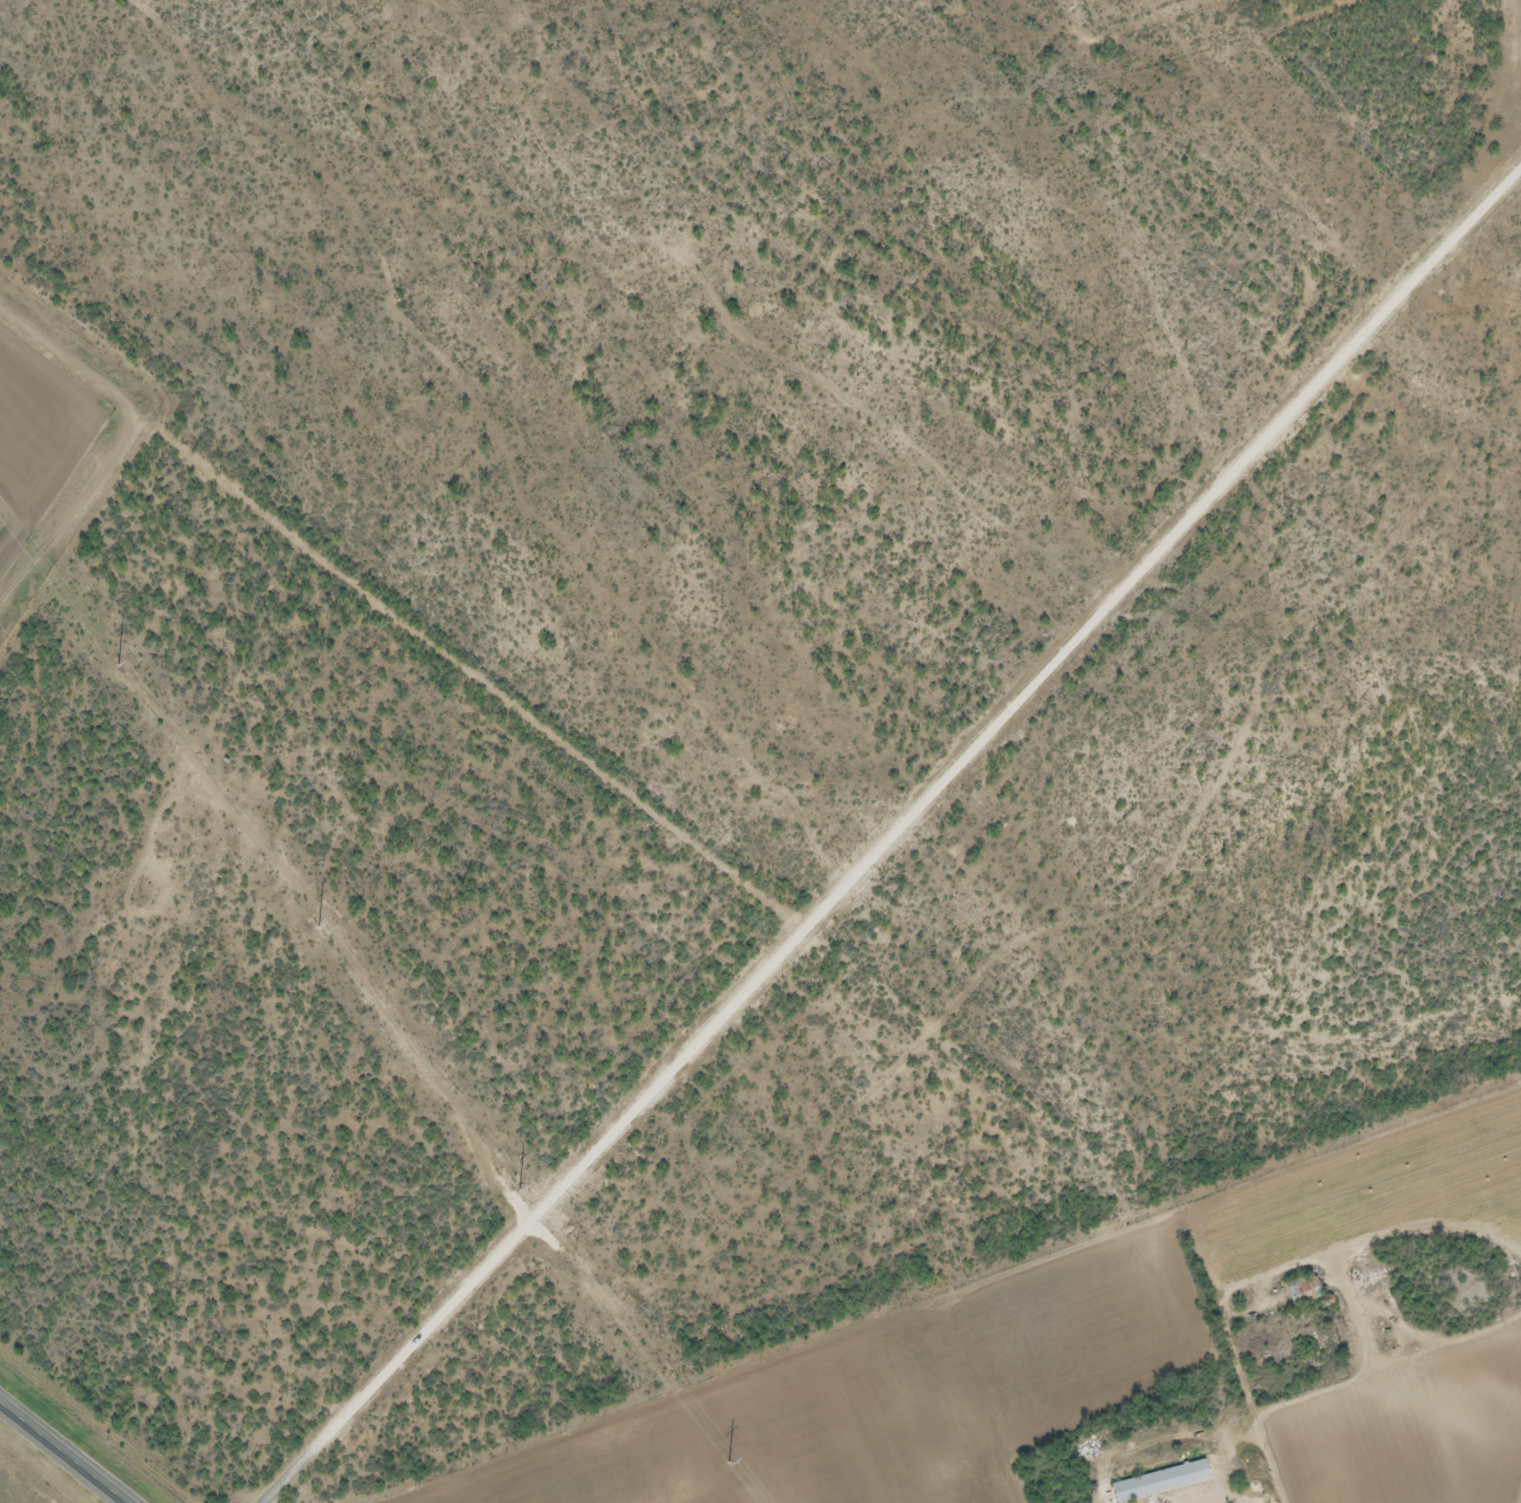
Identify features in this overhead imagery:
power tower: (111, 655)
road: (894, 836)
power tower: (312, 919)
power tower: (512, 1180)
building: (1301, 1289)
road: (1344, 1388)
railway: (101, 1420)
road: (67, 1450)
power tower: (720, 1454)
building: (1160, 1481)

